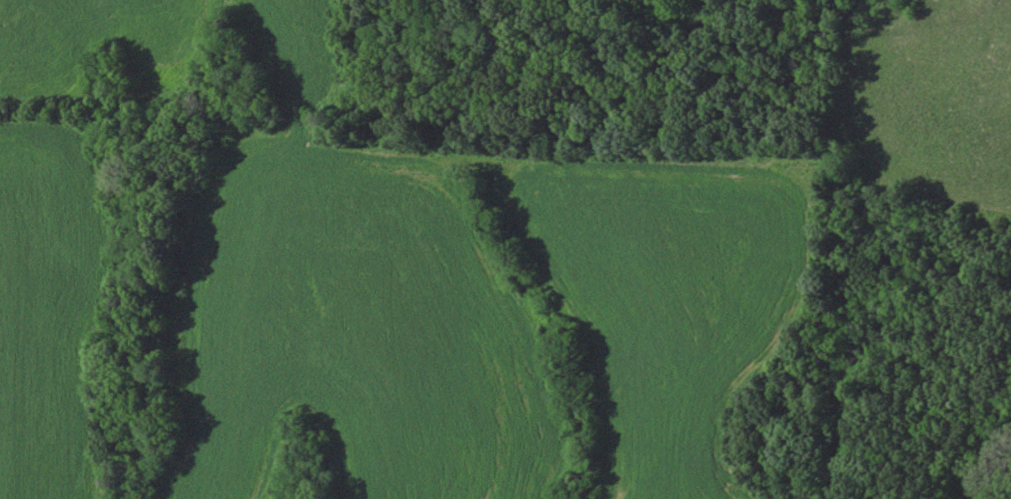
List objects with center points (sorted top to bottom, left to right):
river: (972, 435)

